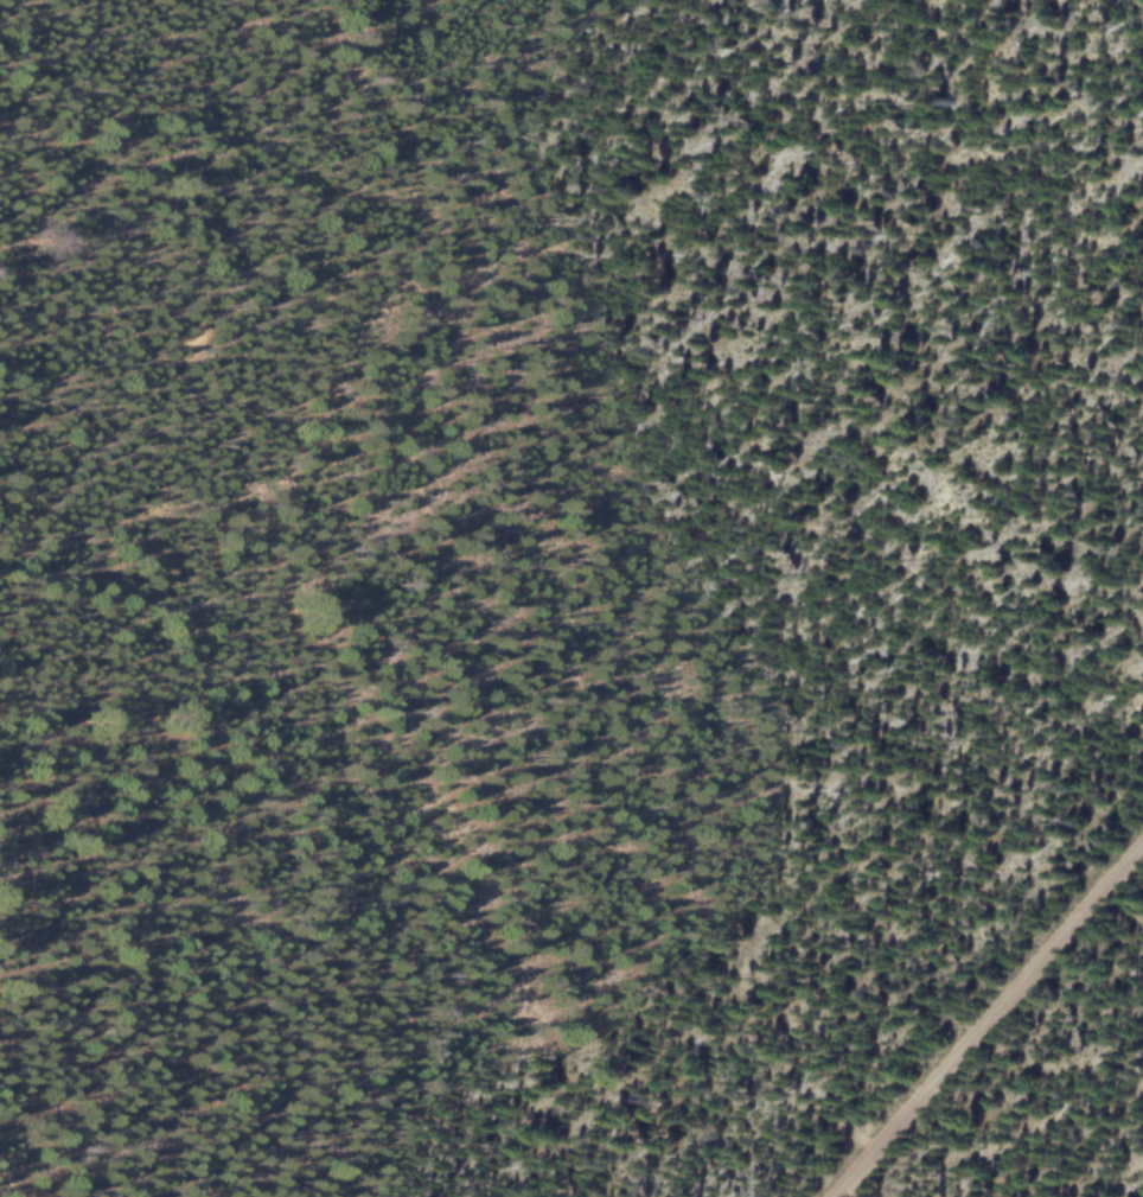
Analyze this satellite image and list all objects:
road: (43, 82)
road: (988, 1019)
road: (11, 1179)

